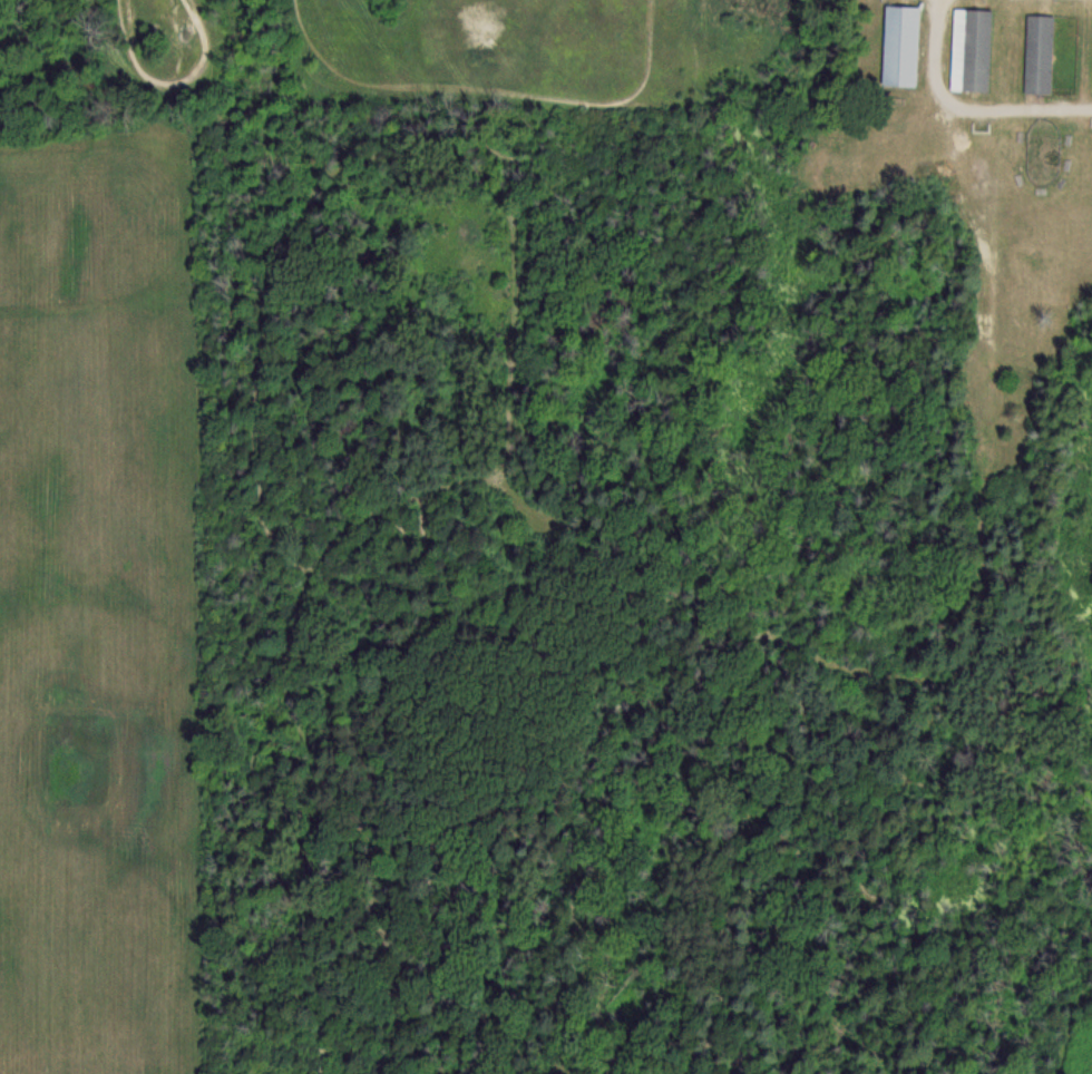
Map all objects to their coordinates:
building: (898, 46)
building: (969, 49)
building: (1037, 53)
road: (994, 245)
road: (235, 382)
park: (649, 568)
road: (690, 849)
road: (331, 990)

